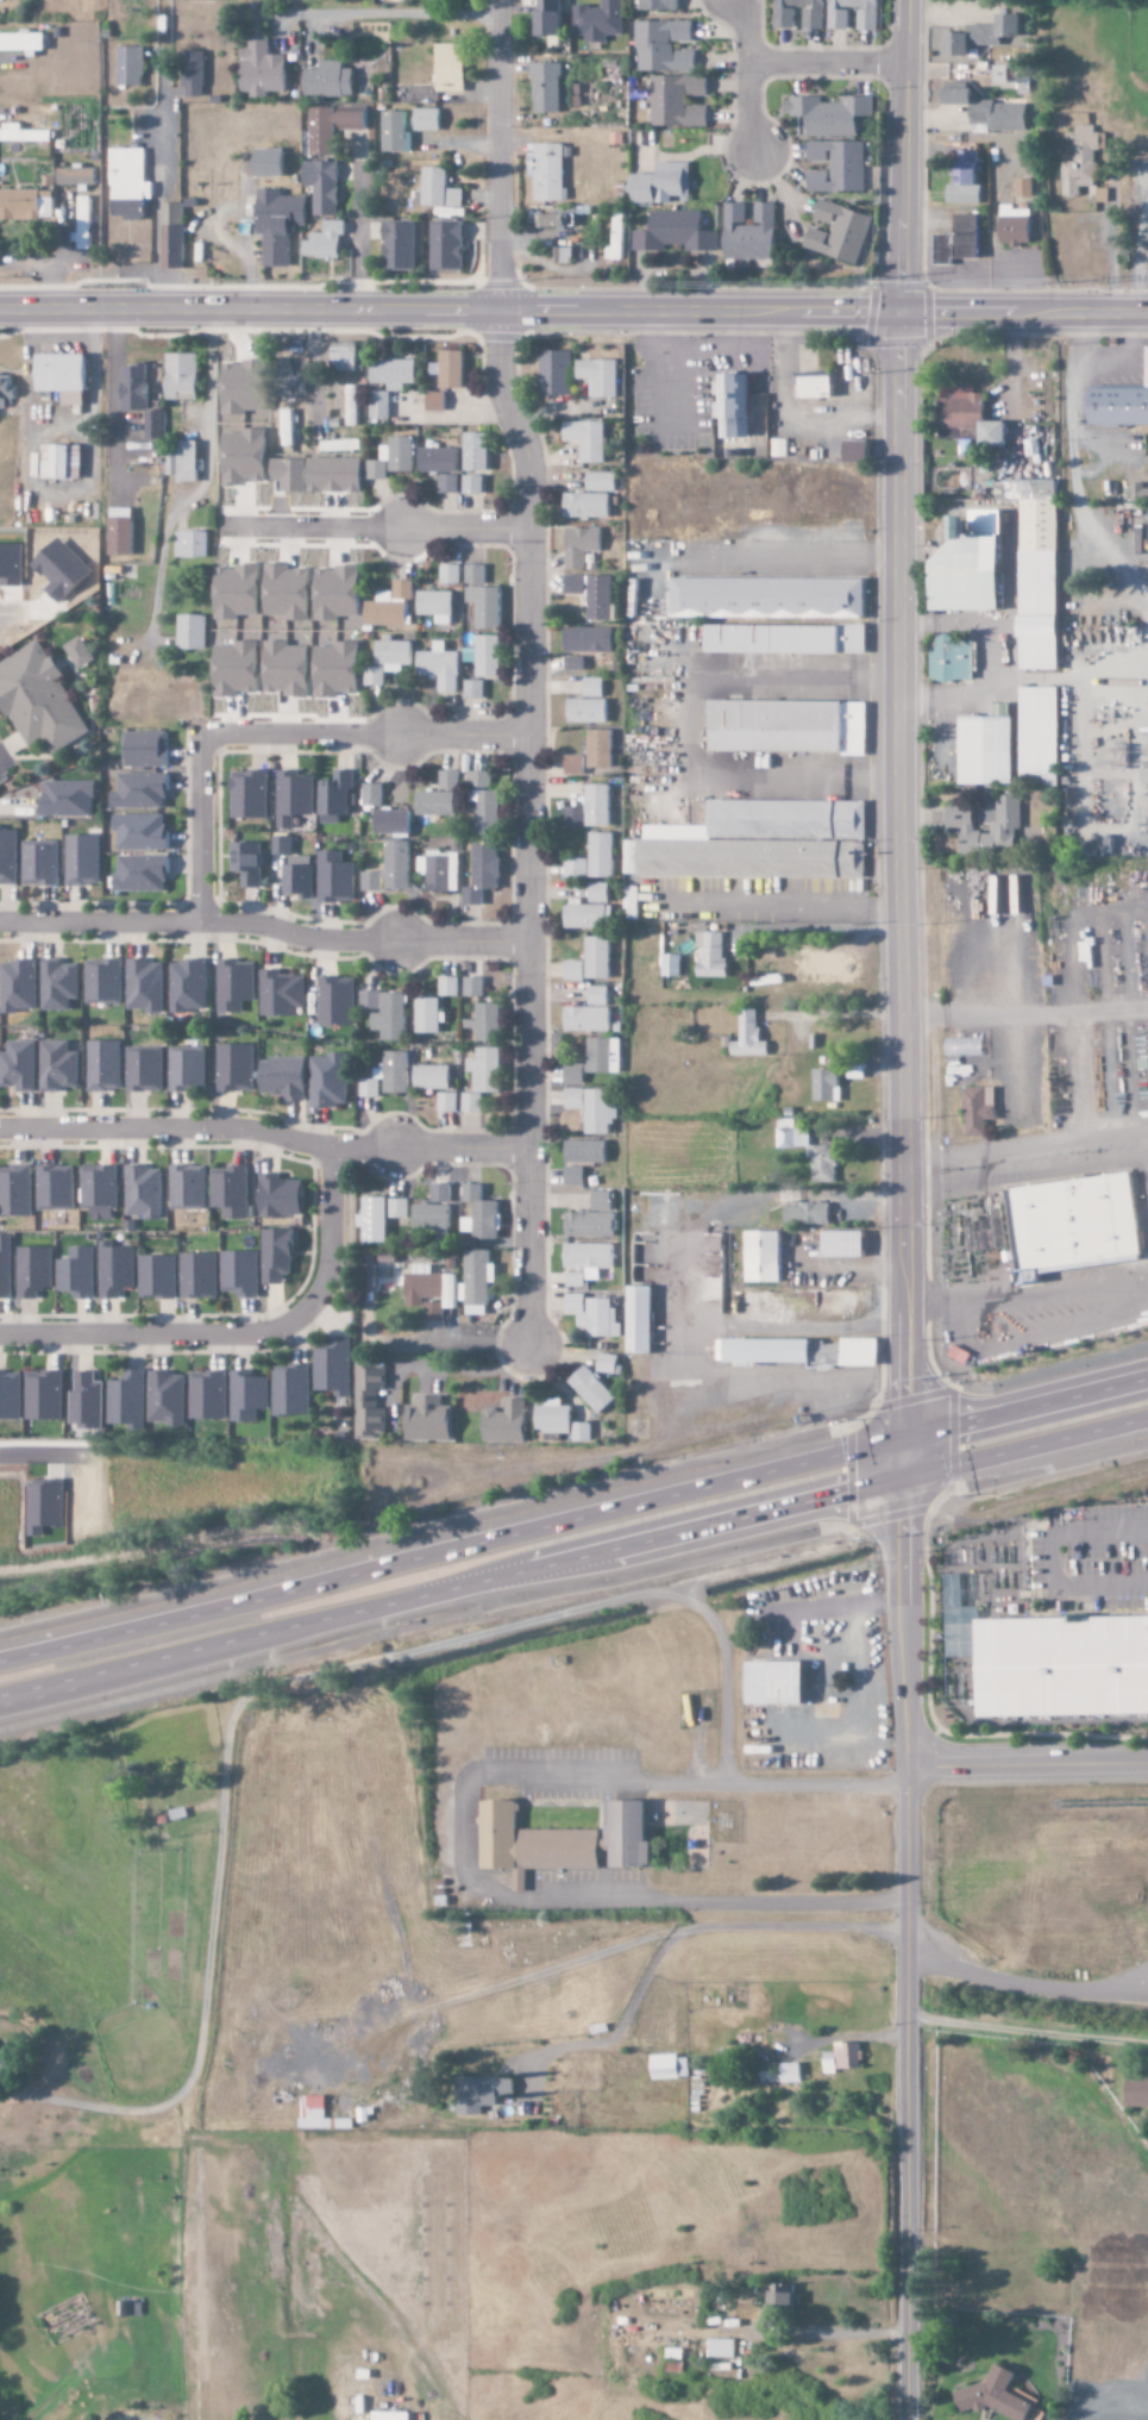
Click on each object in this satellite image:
building: (441, 0)
building: (655, 5)
building: (544, 18)
building: (779, 18)
building: (834, 19)
building: (596, 21)
building: (978, 36)
building: (20, 44)
building: (660, 46)
road: (826, 61)
building: (126, 67)
building: (445, 68)
building: (256, 70)
road: (746, 71)
building: (189, 75)
building: (1004, 75)
building: (324, 81)
building: (541, 88)
building: (675, 101)
building: (984, 112)
building: (827, 114)
building: (424, 120)
building: (328, 127)
building: (393, 133)
building: (21, 136)
building: (1079, 161)
building: (263, 163)
building: (833, 167)
building: (545, 170)
building: (74, 177)
building: (961, 180)
building: (126, 183)
building: (658, 185)
building: (319, 187)
building: (1021, 189)
building: (433, 192)
building: (17, 206)
road: (357, 220)
building: (547, 221)
building: (274, 225)
building: (1010, 227)
building: (672, 233)
building: (746, 233)
building: (835, 233)
building: (168, 237)
building: (615, 238)
building: (321, 242)
building: (954, 242)
building: (395, 248)
building: (443, 248)
building: (1146, 251)
road: (573, 307)
traffic signals: (899, 312)
building: (453, 368)
building: (556, 371)
building: (395, 373)
building: (183, 375)
building: (65, 376)
building: (602, 376)
building: (294, 386)
building: (817, 386)
building: (136, 387)
building: (7, 390)
road: (112, 401)
building: (437, 401)
building: (379, 404)
building: (735, 405)
building: (352, 406)
building: (1118, 406)
building: (962, 414)
building: (155, 424)
building: (288, 427)
building: (996, 433)
building: (589, 439)
building: (339, 445)
building: (779, 448)
building: (858, 450)
building: (394, 458)
building: (62, 461)
building: (477, 461)
building: (183, 462)
building: (444, 467)
building: (1147, 467)
building: (602, 481)
building: (1144, 494)
building: (589, 505)
road: (465, 529)
building: (121, 534)
building: (192, 544)
building: (581, 545)
road: (776, 559)
building: (976, 565)
building: (1040, 570)
building: (450, 574)
building: (239, 590)
building: (288, 592)
building: (338, 592)
building: (592, 593)
building: (484, 598)
building: (770, 598)
building: (390, 605)
building: (438, 605)
building: (193, 631)
building: (788, 638)
building: (589, 639)
building: (81, 652)
building: (395, 655)
building: (490, 656)
building: (951, 658)
building: (575, 663)
building: (441, 665)
building: (238, 668)
building: (288, 668)
building: (338, 669)
road: (525, 669)
building: (375, 675)
building: (594, 687)
building: (475, 689)
building: (39, 700)
building: (588, 711)
road: (895, 717)
road: (684, 724)
building: (789, 726)
building: (1042, 734)
road: (360, 736)
building: (148, 749)
building: (600, 749)
building: (990, 750)
building: (575, 764)
building: (143, 790)
building: (250, 794)
building: (372, 795)
building: (337, 796)
building: (440, 796)
building: (69, 798)
building: (294, 798)
building: (485, 802)
building: (598, 805)
building: (961, 815)
building: (575, 817)
building: (394, 821)
road: (197, 828)
building: (143, 831)
building: (757, 843)
building: (283, 844)
building: (602, 855)
building: (8, 856)
building: (84, 859)
building: (250, 863)
building: (42, 864)
building: (577, 868)
building: (391, 869)
building: (440, 871)
building: (143, 873)
building: (483, 873)
building: (335, 877)
building: (301, 880)
building: (600, 893)
building: (631, 902)
road: (773, 903)
building: (590, 915)
road: (263, 927)
building: (713, 955)
building: (598, 957)
building: (671, 965)
building: (575, 970)
building: (105, 981)
building: (59, 984)
building: (145, 984)
building: (19, 986)
building: (188, 986)
building: (234, 986)
building: (448, 986)
building: (473, 986)
building: (282, 993)
building: (598, 995)
building: (337, 1000)
building: (387, 1013)
building: (429, 1015)
building: (589, 1019)
building: (487, 1021)
building: (749, 1036)
building: (592, 1062)
building: (20, 1065)
building: (61, 1065)
building: (106, 1065)
building: (237, 1067)
building: (188, 1069)
building: (146, 1070)
building: (397, 1071)
building: (286, 1077)
building: (433, 1077)
building: (484, 1077)
building: (330, 1080)
building: (371, 1084)
building: (827, 1084)
building: (576, 1099)
building: (448, 1102)
building: (601, 1111)
building: (979, 1111)
road: (262, 1133)
building: (808, 1148)
building: (588, 1151)
building: (575, 1176)
building: (57, 1187)
building: (188, 1187)
building: (17, 1190)
building: (231, 1190)
building: (100, 1192)
building: (144, 1192)
building: (282, 1196)
building: (602, 1201)
building: (400, 1208)
building: (481, 1214)
building: (808, 1214)
building: (375, 1219)
building: (1077, 1221)
building: (590, 1224)
building: (846, 1244)
building: (278, 1255)
building: (766, 1256)
building: (588, 1262)
building: (6, 1265)
building: (118, 1269)
building: (36, 1271)
building: (79, 1272)
building: (240, 1272)
building: (200, 1275)
building: (158, 1276)
building: (478, 1277)
building: (432, 1287)
building: (575, 1303)
building: (434, 1312)
building: (601, 1319)
building: (641, 1320)
road: (238, 1331)
building: (799, 1351)
building: (334, 1367)
building: (291, 1390)
building: (592, 1390)
building: (11, 1395)
building: (45, 1395)
building: (209, 1395)
building: (249, 1395)
building: (169, 1397)
building: (128, 1399)
building: (87, 1401)
building: (369, 1402)
road: (1023, 1406)
building: (429, 1420)
building: (508, 1422)
traffic signals: (899, 1436)
road: (1024, 1452)
road: (899, 1459)
traffic signals: (901, 1483)
building: (46, 1507)
road: (450, 1552)
road: (450, 1589)
building: (1064, 1667)
road: (77, 1682)
road: (270, 1683)
building: (782, 1683)
road: (1025, 1763)
parking lot: (560, 1774)
road: (811, 1784)
building: (628, 1836)
building: (531, 1843)
parking lot: (581, 1881)
road: (500, 1897)
road: (902, 1951)
building: (841, 2058)
building: (5, 2061)
building: (669, 2066)
building: (790, 2072)
building: (483, 2093)
building: (1138, 2093)
building: (314, 2113)
building: (782, 2301)
building: (721, 2349)
building: (997, 2396)

